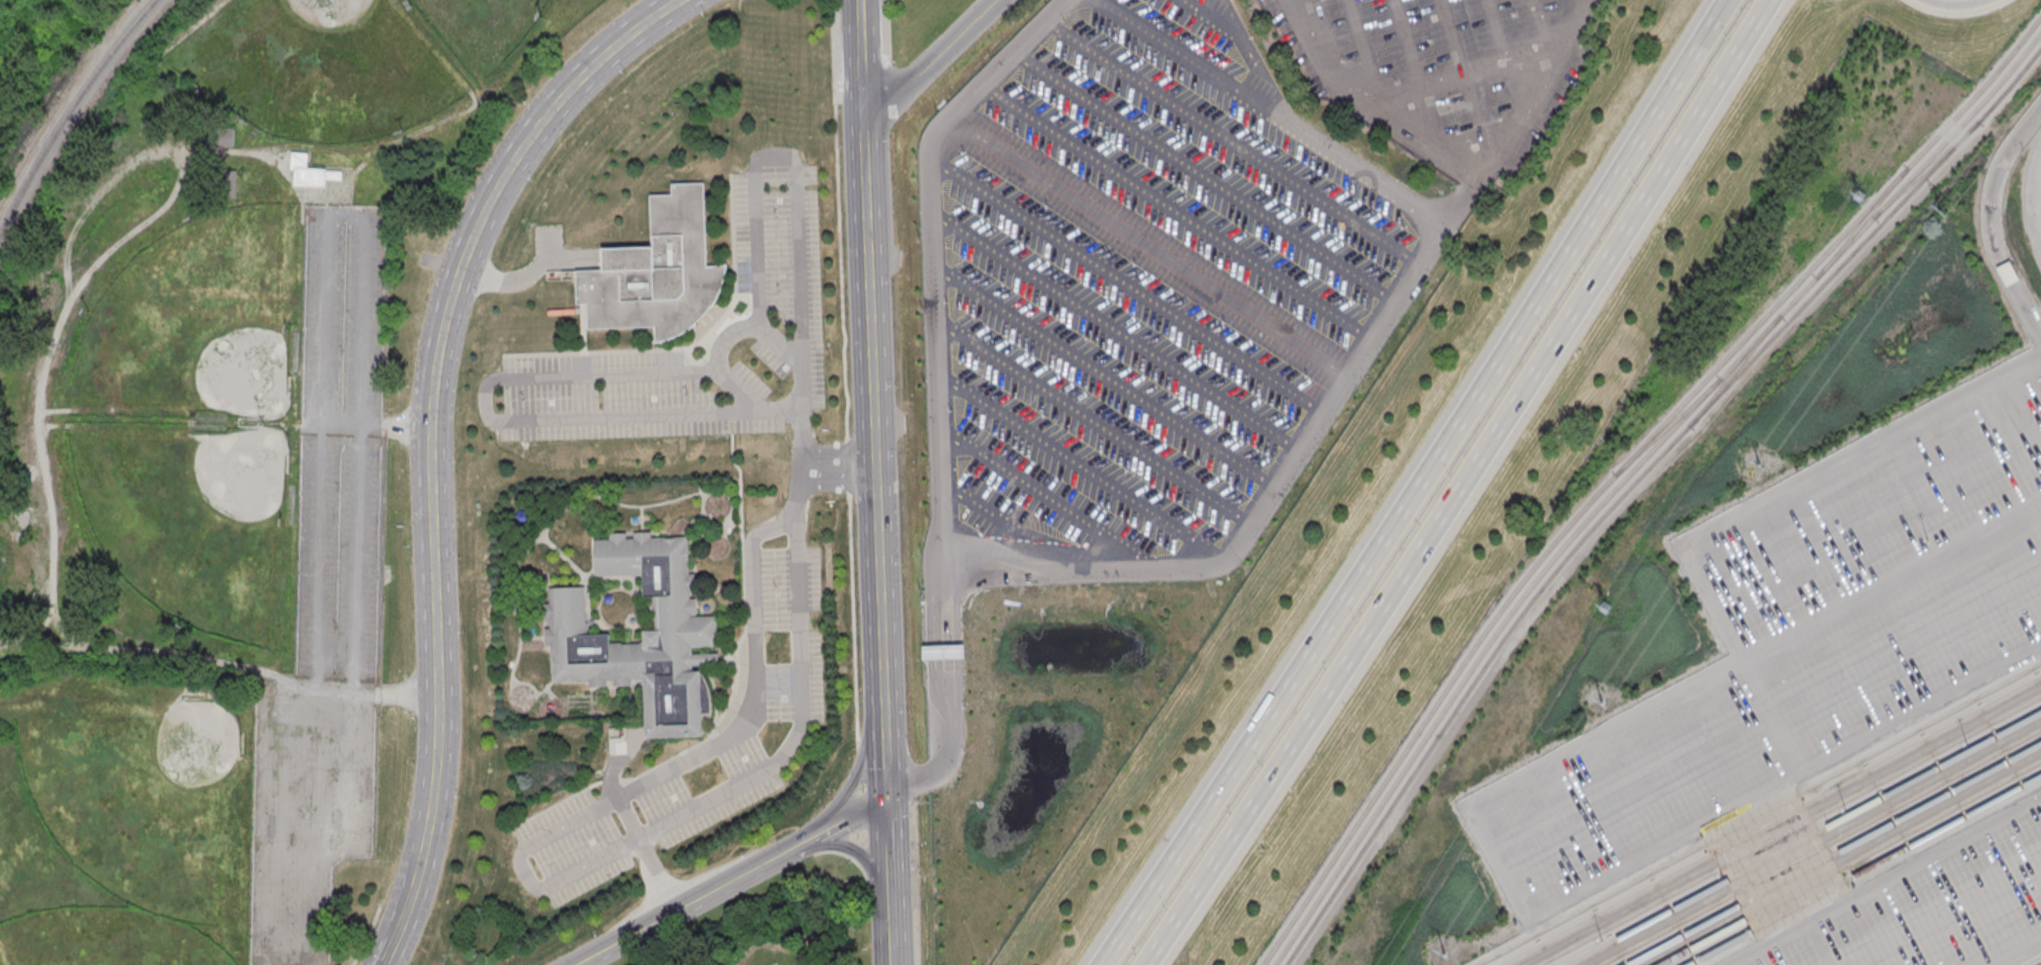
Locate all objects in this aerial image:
road: (1583, 4)
road: (1959, 4)
road: (857, 9)
street lamp: (708, 15)
road: (1544, 22)
road: (1218, 23)
road: (1497, 27)
street lamp: (837, 29)
road: (885, 30)
road: (1453, 33)
road: (1408, 40)
road: (1363, 45)
road: (931, 61)
parking lot: (1445, 71)
street lamp: (626, 74)
road: (888, 77)
road: (1433, 77)
street lamp: (838, 91)
street lamp: (527, 99)
railway: (69, 111)
road: (1270, 113)
street lamp: (898, 135)
building: (225, 136)
road: (1233, 142)
street lamp: (834, 153)
railway: (1927, 168)
road: (742, 173)
road: (1476, 173)
building: (309, 177)
road: (1205, 177)
street lamp: (535, 179)
power tower: (1858, 197)
road: (2036, 201)
road: (1177, 213)
street lamp: (778, 214)
street lamp: (837, 214)
road: (345, 215)
road: (838, 219)
road: (1988, 221)
railway: (1862, 222)
road: (1149, 246)
building: (656, 272)
road: (529, 275)
street lamp: (838, 278)
street lamp: (894, 281)
road: (1127, 284)
street lamp: (778, 289)
road: (933, 292)
street lamp: (482, 295)
parking lot: (1140, 298)
parking lot: (788, 316)
road: (726, 320)
road: (732, 327)
road: (1116, 331)
road: (710, 336)
road: (724, 338)
street lamp: (841, 338)
road: (717, 344)
road: (691, 347)
street lamp: (739, 349)
road: (502, 367)
railway: (1735, 370)
road: (868, 373)
road: (1104, 378)
street lamp: (409, 381)
street lamp: (897, 384)
street lamp: (781, 387)
street lamp: (688, 392)
street lamp: (600, 395)
street lamp: (523, 398)
street lamp: (844, 400)
road: (510, 422)
road: (1093, 423)
road: (731, 424)
road: (359, 425)
road: (374, 425)
railway: (1668, 425)
road: (320, 426)
road: (429, 442)
street lamp: (906, 450)
road: (836, 453)
street lamp: (460, 461)
road: (847, 465)
railway: (1622, 467)
road: (1083, 469)
building: (198, 474)
railway: (1628, 475)
road: (1804, 476)
road: (836, 478)
railway: (1634, 483)
road: (1455, 485)
road: (1419, 486)
road: (1275, 489)
road: (798, 493)
road: (1050, 499)
street lamp: (847, 508)
building: (520, 516)
road: (1010, 526)
street lamp: (405, 545)
road: (971, 551)
road: (356, 557)
street lamp: (904, 562)
street lamp: (848, 573)
road: (318, 575)
power tower: (1604, 607)
road: (852, 620)
street lamp: (465, 632)
building: (680, 638)
road: (741, 639)
street lamp: (851, 642)
parking lot: (1801, 642)
road: (943, 648)
road: (379, 693)
street lamp: (909, 710)
road: (945, 711)
street lamp: (853, 712)
road: (1771, 714)
street lamp: (413, 717)
road: (739, 730)
parking lot: (706, 744)
road: (881, 763)
road: (859, 765)
road: (609, 780)
road: (912, 781)
road: (851, 784)
road: (862, 788)
street lamp: (865, 788)
street lamp: (462, 795)
traffic signals: (883, 799)
road: (555, 803)
road: (860, 809)
railway: (1759, 814)
road: (848, 816)
railway: (1773, 821)
road: (630, 823)
road: (1782, 826)
railway: (1790, 830)
road: (1481, 832)
road: (860, 836)
railway: (1806, 839)
road: (802, 842)
road: (1814, 843)
road: (887, 844)
road: (849, 846)
railway: (1821, 847)
railway: (1835, 854)
road: (851, 857)
road: (862, 857)
road: (1842, 858)
railway: (1851, 863)
railway: (1865, 870)
road: (523, 876)
road: (1883, 880)
road: (1787, 883)
parking lot: (1930, 905)
road: (681, 907)
road: (892, 918)
road: (2019, 953)
road: (893, 956)
parking lot: (774, 964)

